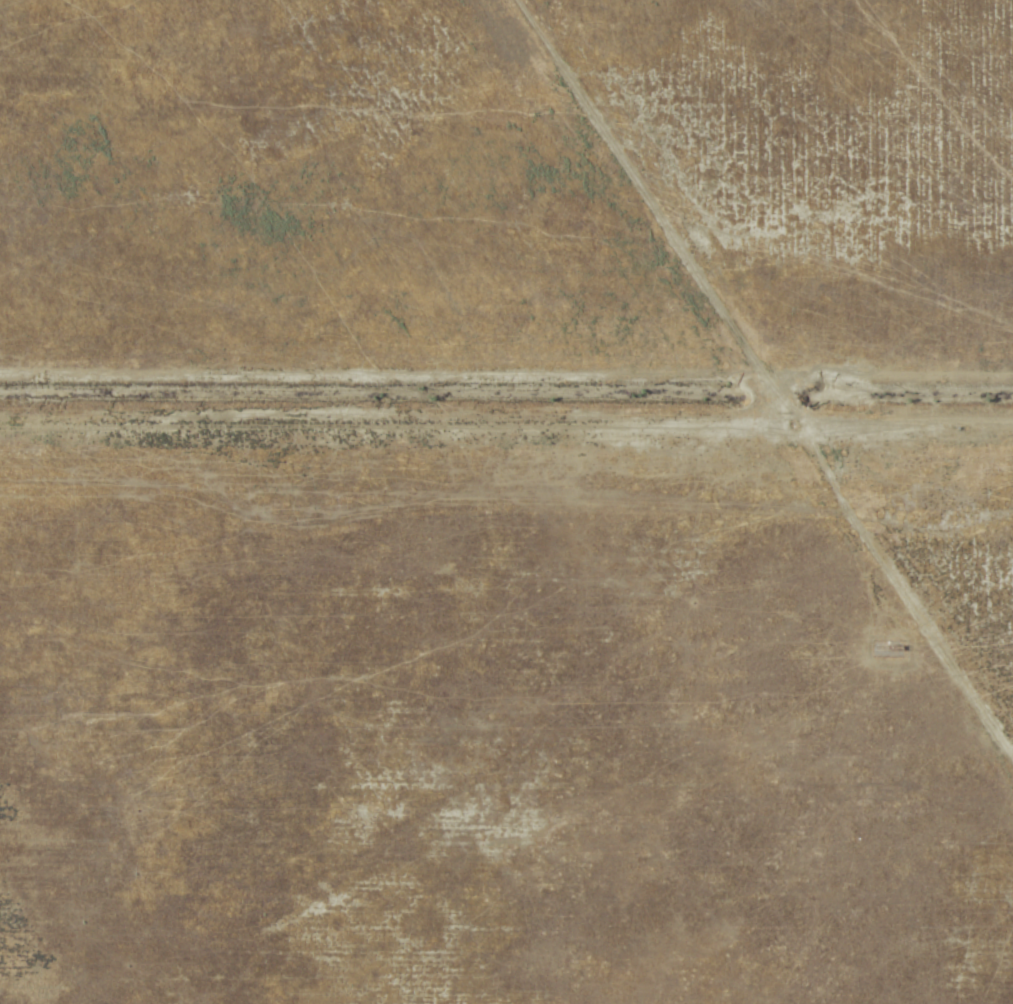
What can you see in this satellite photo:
road: (771, 360)

